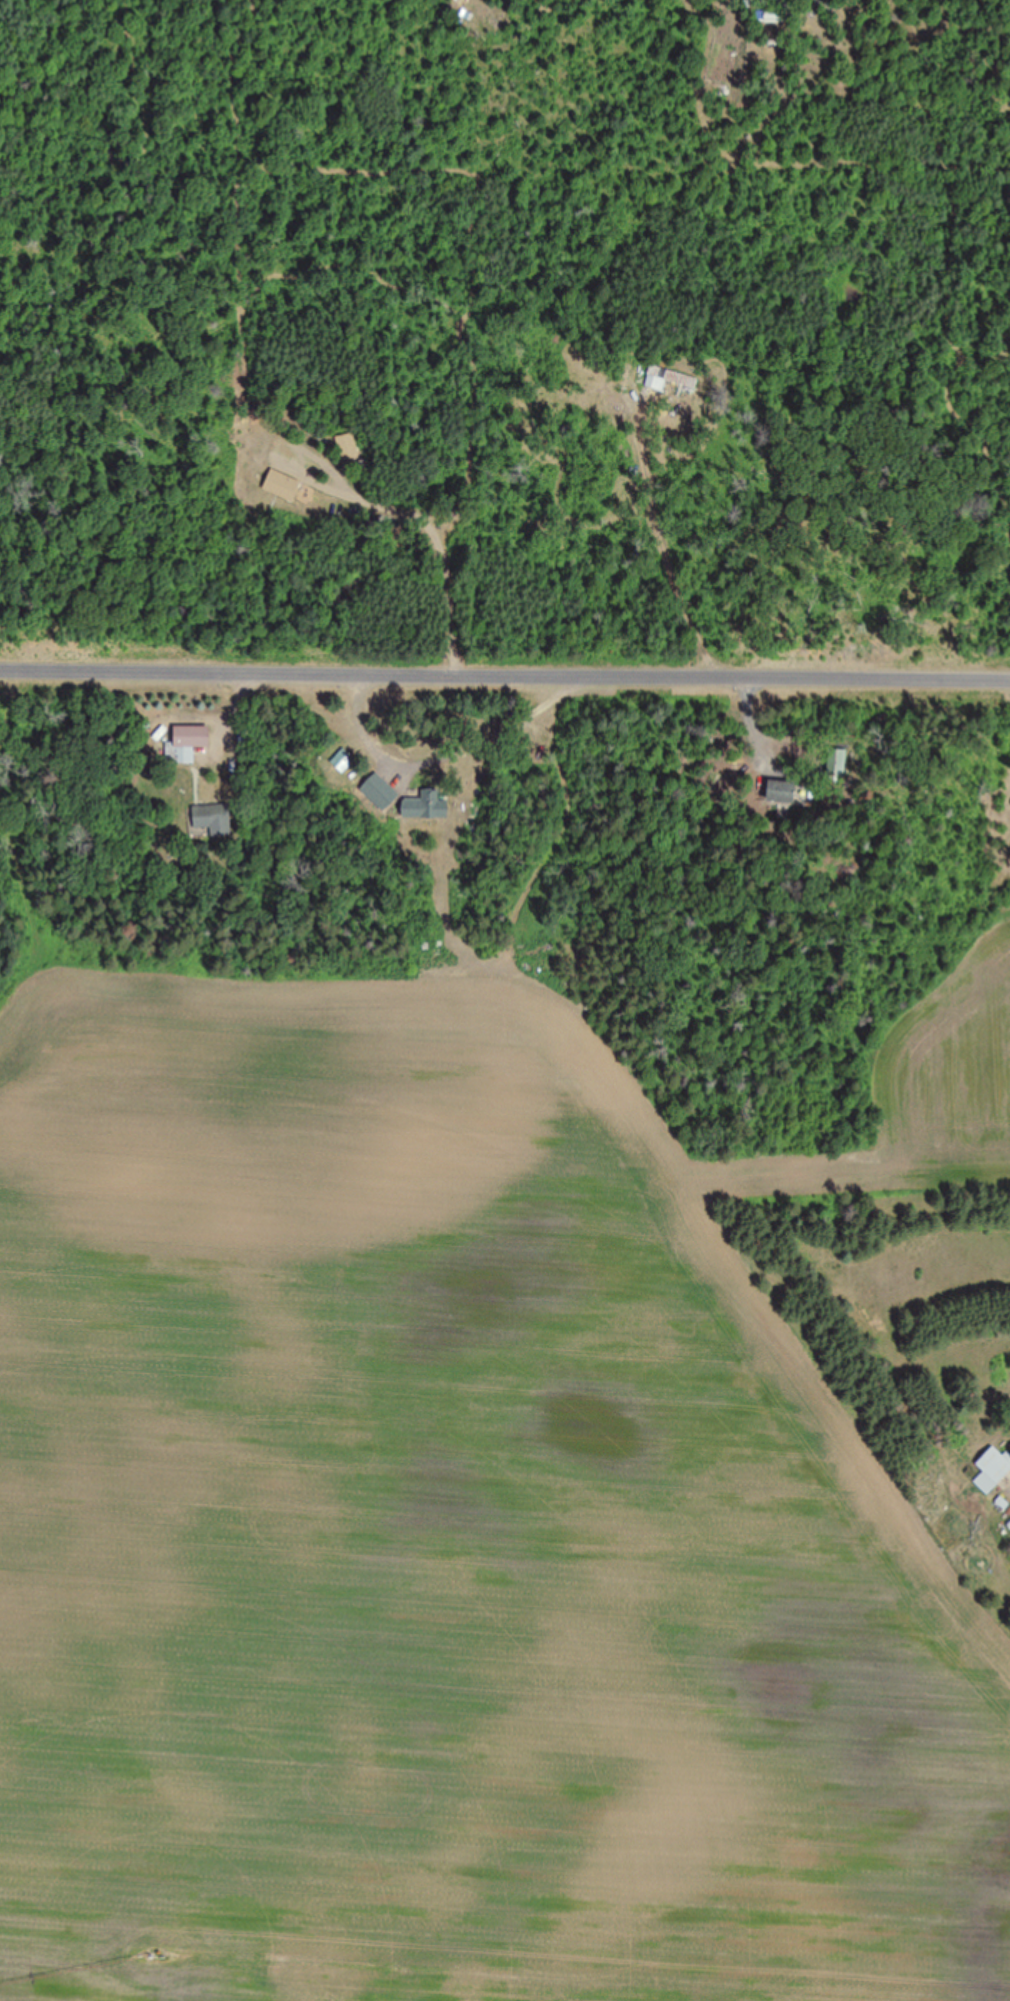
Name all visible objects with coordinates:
building: (669, 378)
building: (285, 447)
road: (441, 539)
road: (505, 668)
building: (188, 743)
building: (838, 762)
building: (783, 791)
building: (382, 792)
building: (428, 805)
building: (215, 818)
road: (562, 837)
building: (993, 1470)

